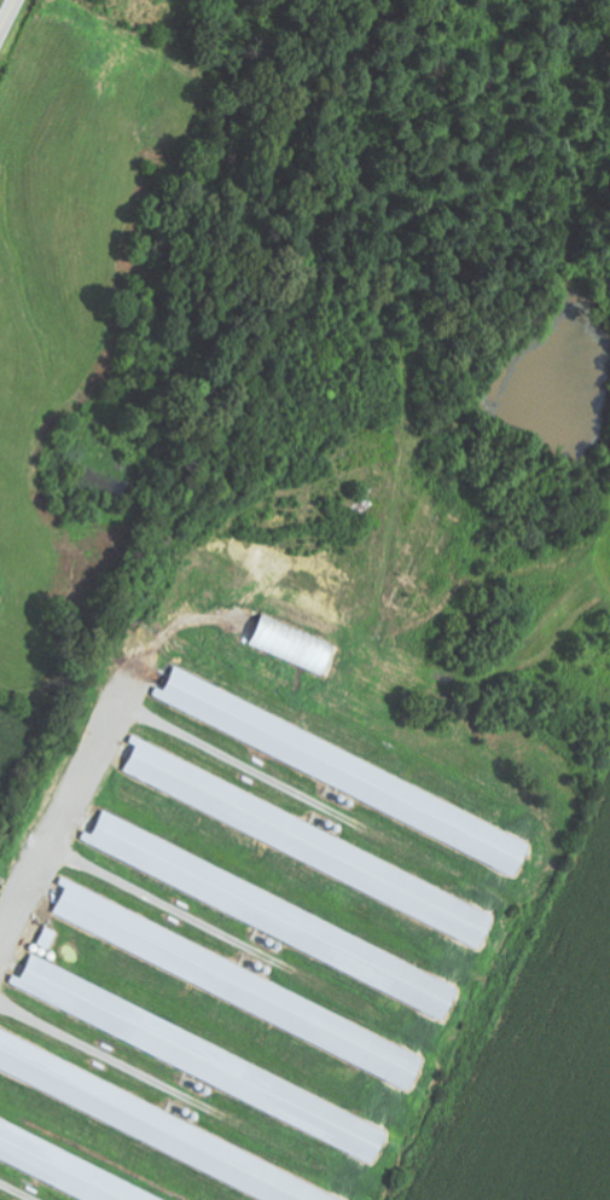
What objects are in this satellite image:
road: (10, 18)
building: (295, 645)
building: (345, 771)
building: (204, 1059)
building: (157, 1126)

